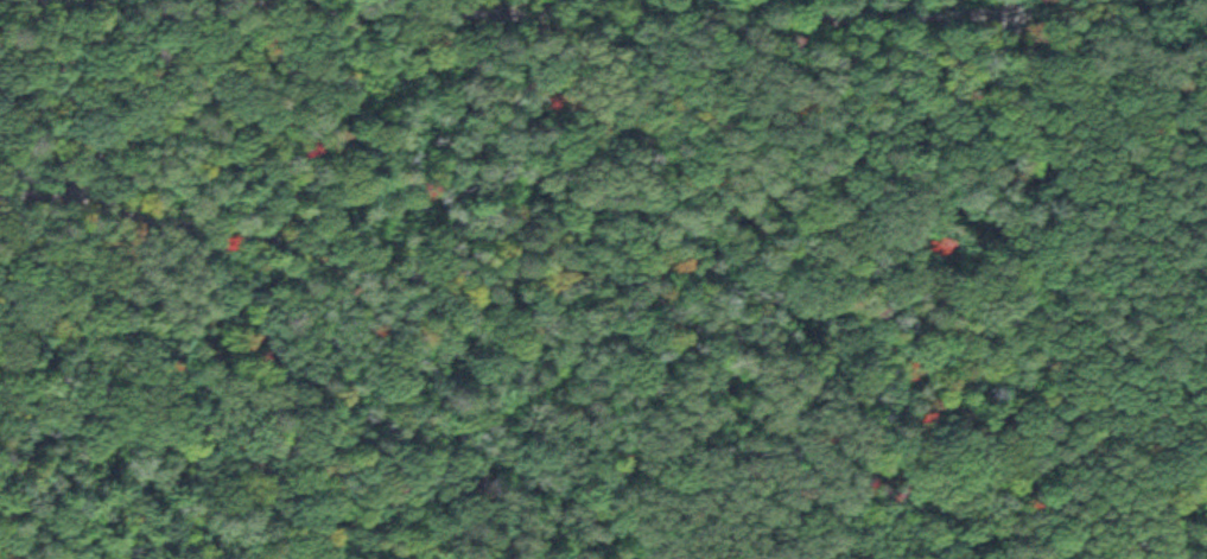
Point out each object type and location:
road: (1023, 8)
road: (548, 9)
road: (52, 183)
road: (52, 201)
road: (597, 281)
road: (123, 443)

